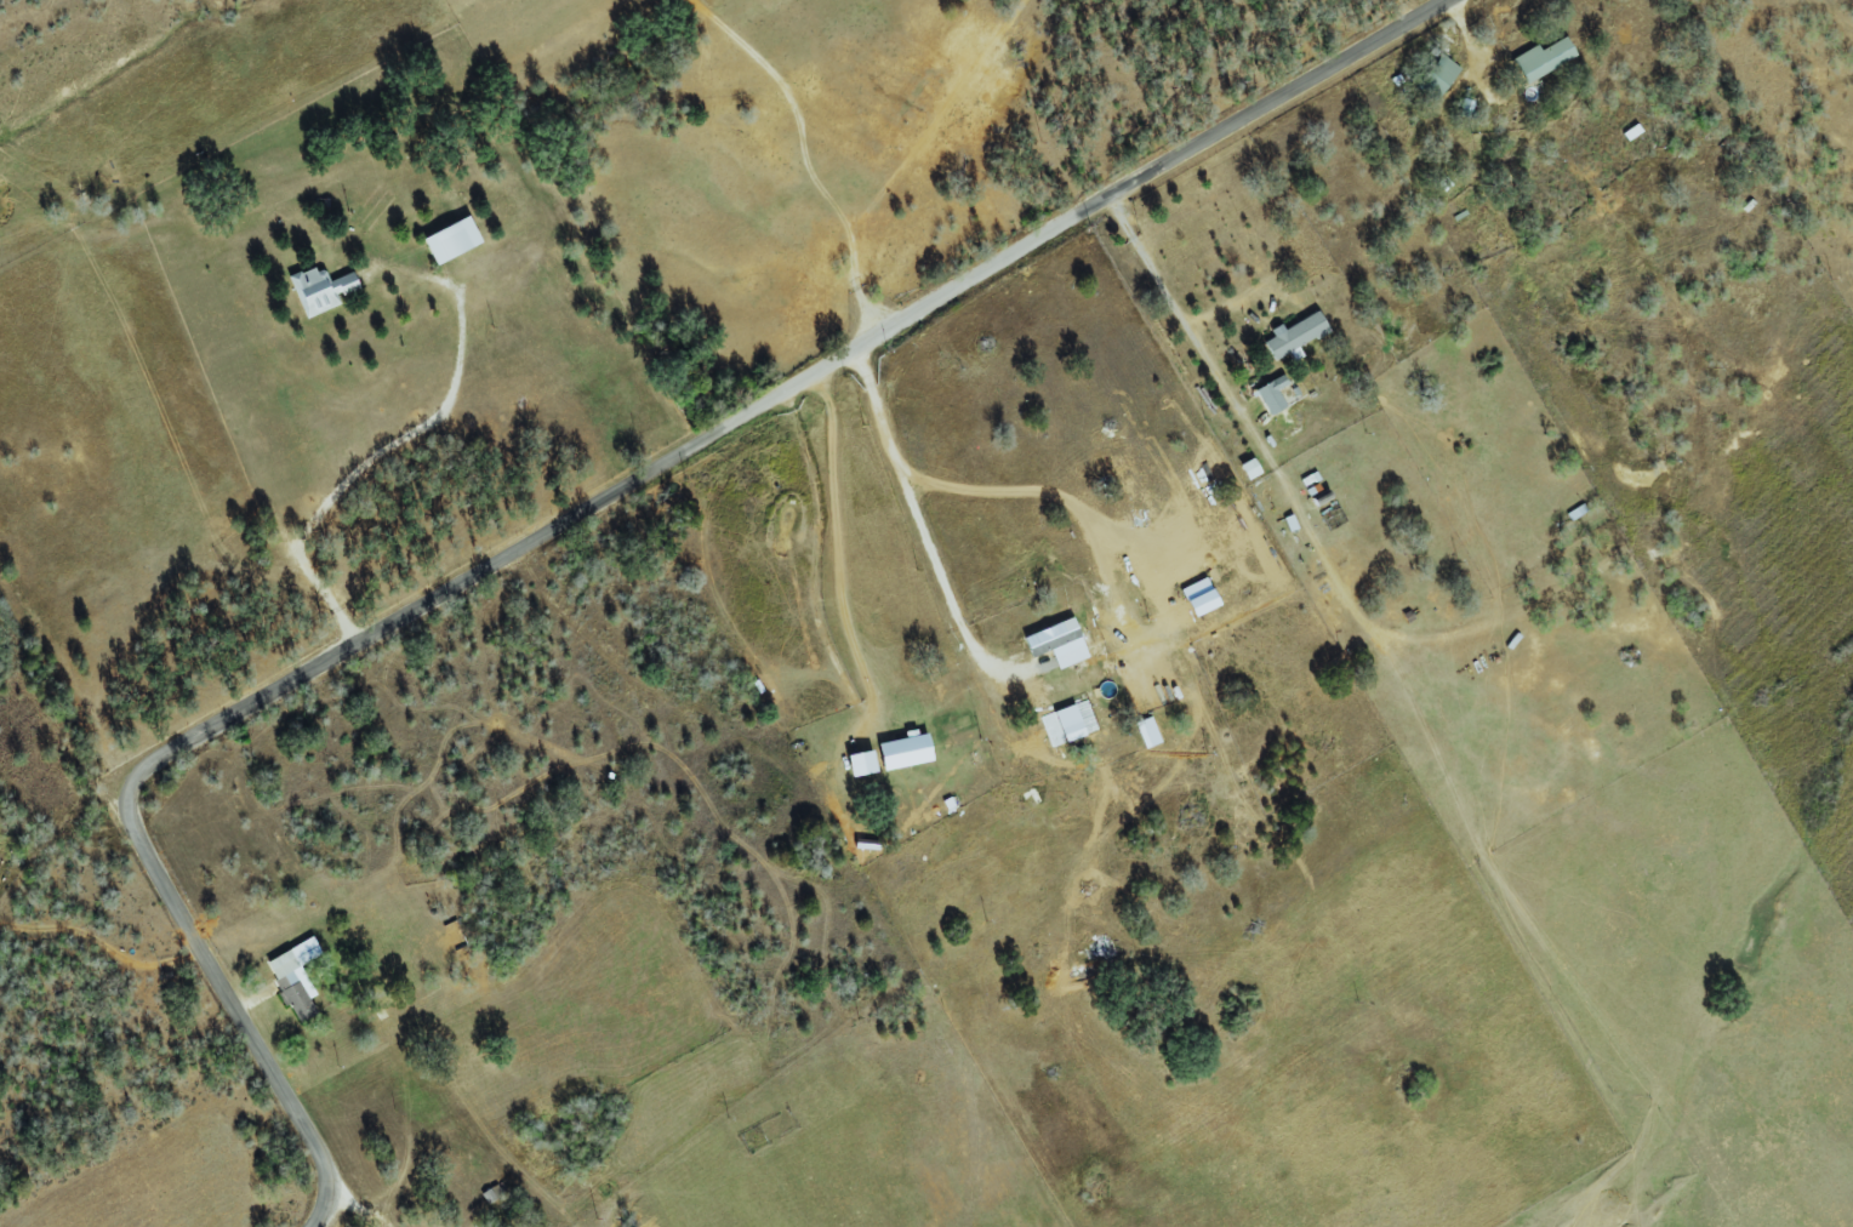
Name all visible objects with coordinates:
building: (1543, 58)
building: (1437, 76)
road: (1522, 137)
road: (803, 154)
building: (451, 240)
building: (319, 290)
road: (1178, 312)
building: (1294, 336)
building: (1271, 395)
road: (390, 440)
building: (1249, 469)
road: (917, 509)
road: (572, 517)
road: (822, 555)
building: (1057, 644)
building: (1073, 732)
building: (906, 751)
building: (862, 764)
building: (293, 978)
road: (631, 1124)
road: (471, 1174)
road: (353, 1211)

